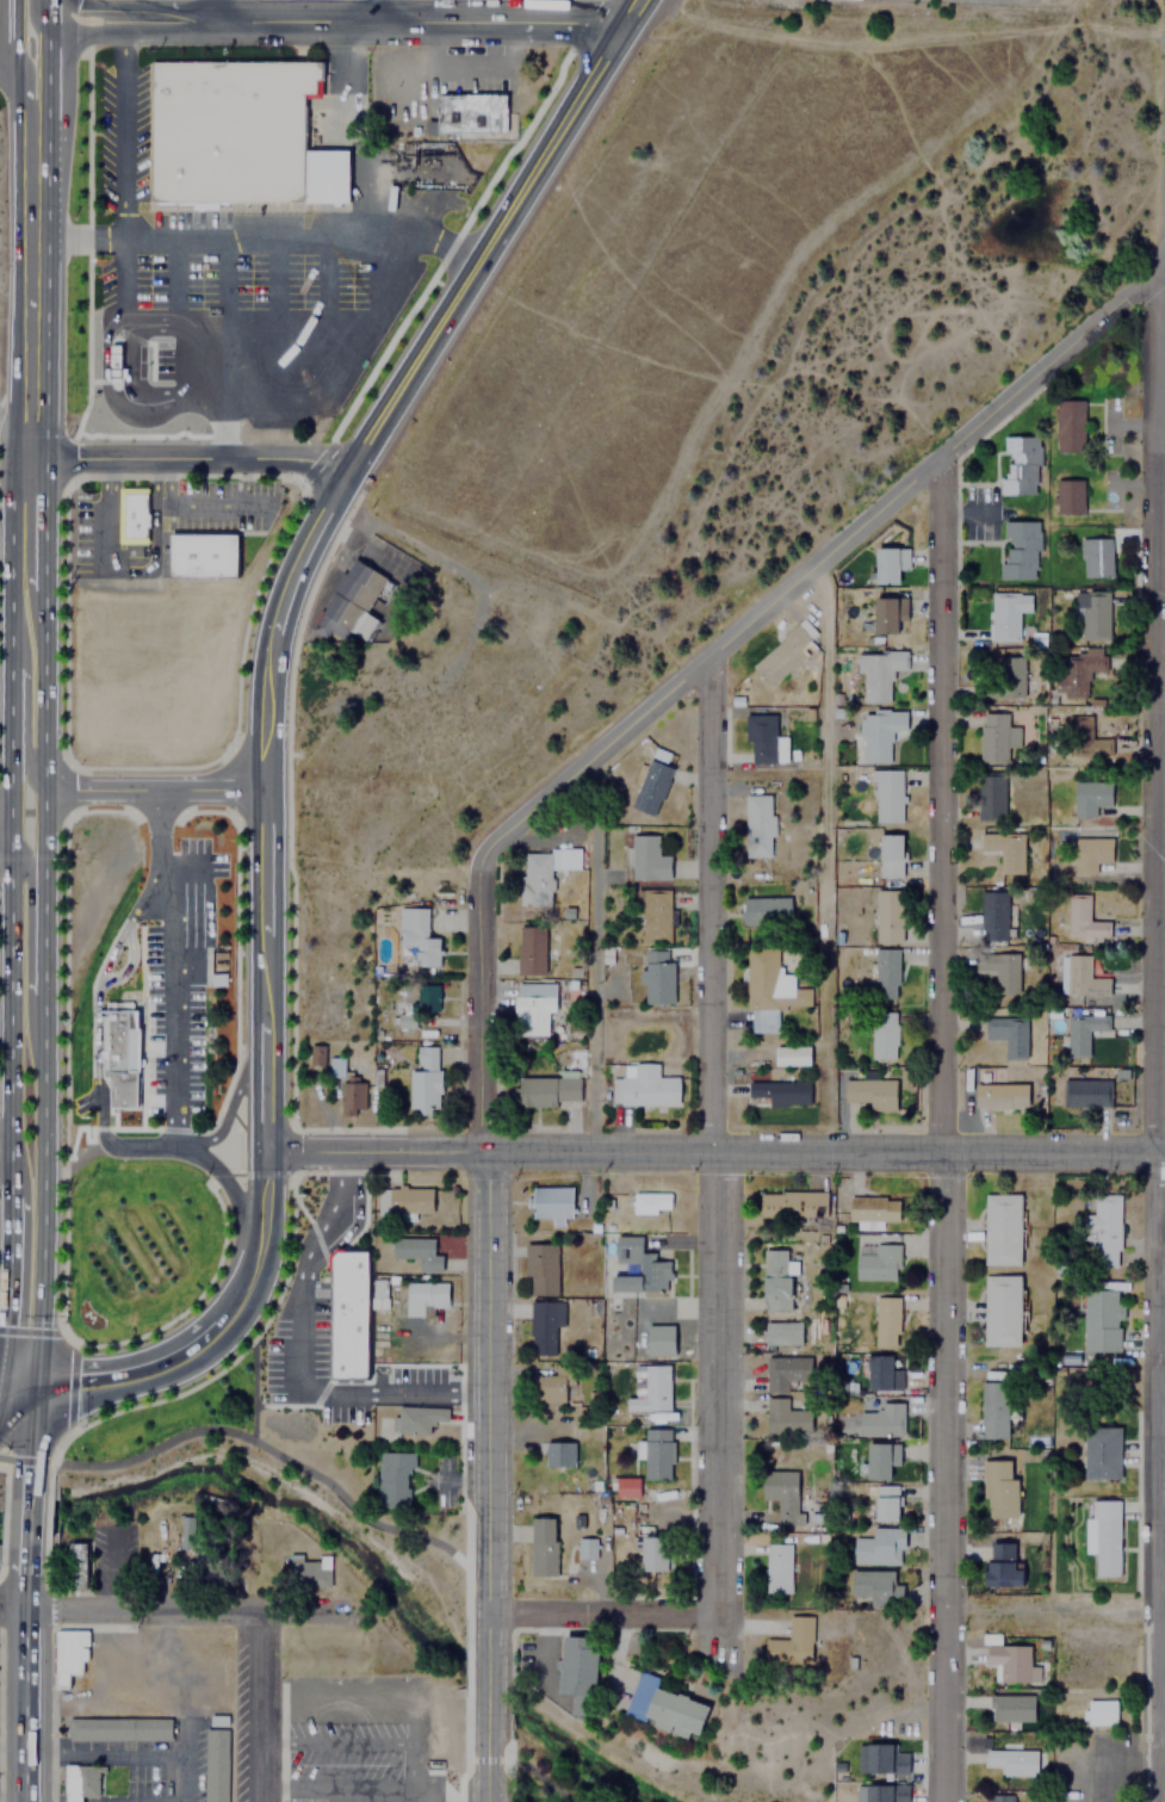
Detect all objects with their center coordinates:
road: (110, 8)
road: (215, 10)
road: (383, 10)
road: (45, 17)
road: (32, 18)
road: (386, 20)
road: (14, 31)
road: (97, 33)
road: (27, 48)
road: (7, 62)
road: (45, 92)
road: (25, 93)
road: (14, 110)
building: (472, 112)
building: (236, 135)
road: (35, 172)
road: (490, 234)
road: (32, 327)
building: (1068, 426)
road: (186, 457)
building: (1018, 465)
building: (1068, 496)
building: (131, 514)
road: (42, 522)
building: (1017, 549)
building: (203, 555)
building: (1093, 556)
building: (905, 558)
road: (811, 563)
building: (885, 565)
building: (351, 601)
building: (1006, 613)
building: (1095, 614)
building: (885, 615)
road: (273, 621)
road: (7, 644)
building: (782, 650)
building: (1078, 671)
building: (875, 674)
building: (1002, 676)
road: (42, 689)
road: (1158, 695)
road: (23, 716)
building: (876, 732)
building: (992, 736)
building: (1084, 737)
building: (763, 738)
building: (651, 784)
road: (150, 789)
building: (885, 794)
building: (989, 797)
building: (1089, 797)
road: (24, 811)
building: (757, 825)
building: (311, 826)
road: (153, 836)
road: (4, 838)
building: (1003, 850)
building: (890, 854)
building: (1087, 854)
building: (646, 857)
road: (175, 869)
building: (544, 871)
building: (653, 910)
building: (766, 910)
building: (887, 915)
building: (991, 915)
building: (1079, 918)
road: (25, 931)
building: (417, 934)
building: (529, 950)
road: (123, 962)
building: (999, 970)
building: (885, 972)
building: (657, 978)
building: (1080, 978)
building: (769, 990)
road: (262, 1002)
building: (420, 1004)
building: (531, 1007)
road: (482, 1011)
road: (7, 1018)
road: (168, 1021)
building: (1083, 1032)
building: (1009, 1033)
building: (882, 1036)
road: (92, 1038)
building: (118, 1052)
building: (317, 1055)
road: (1151, 1066)
building: (425, 1077)
road: (41, 1085)
building: (643, 1086)
building: (347, 1088)
building: (547, 1090)
building: (870, 1092)
building: (1084, 1092)
building: (777, 1094)
building: (1000, 1095)
road: (937, 1129)
road: (707, 1138)
road: (188, 1145)
road: (4, 1148)
road: (373, 1151)
road: (824, 1152)
building: (404, 1200)
building: (650, 1202)
building: (792, 1205)
building: (552, 1206)
building: (873, 1209)
building: (1002, 1228)
building: (1101, 1233)
road: (259, 1234)
building: (417, 1251)
building: (875, 1259)
building: (638, 1267)
building: (540, 1268)
road: (5, 1276)
building: (775, 1280)
building: (423, 1296)
building: (1002, 1309)
building: (348, 1314)
building: (884, 1318)
building: (1102, 1319)
building: (541, 1327)
traffic signals: (2, 1330)
building: (782, 1332)
building: (659, 1339)
road: (168, 1357)
road: (299, 1358)
building: (786, 1371)
building: (879, 1373)
road: (18, 1380)
traffic signals: (72, 1380)
building: (549, 1386)
building: (649, 1389)
building: (994, 1410)
building: (419, 1417)
building: (787, 1418)
building: (880, 1418)
road: (31, 1432)
road: (261, 1442)
building: (1103, 1451)
building: (552, 1453)
building: (657, 1453)
traffic signals: (29, 1460)
building: (879, 1460)
road: (487, 1476)
building: (394, 1478)
building: (626, 1486)
building: (999, 1488)
building: (787, 1493)
building: (886, 1501)
road: (24, 1522)
building: (184, 1531)
building: (1104, 1535)
building: (878, 1544)
building: (541, 1546)
building: (585, 1549)
building: (656, 1552)
building: (76, 1562)
building: (1002, 1565)
building: (777, 1567)
road: (23, 1571)
building: (308, 1572)
building: (874, 1586)
road: (11, 1608)
road: (142, 1610)
road: (1043, 1610)
road: (601, 1612)
building: (792, 1641)
building: (69, 1653)
building: (1009, 1660)
building: (578, 1671)
road: (21, 1691)
building: (664, 1705)
road: (259, 1707)
building: (1010, 1707)
building: (1099, 1713)
building: (118, 1728)
building: (880, 1758)
parking lot: (358, 1760)
building: (1011, 1760)
building: (213, 1764)
park: (578, 1764)
road: (534, 1772)
road: (429, 1773)
building: (81, 1782)
building: (887, 1792)
building: (999, 1797)

